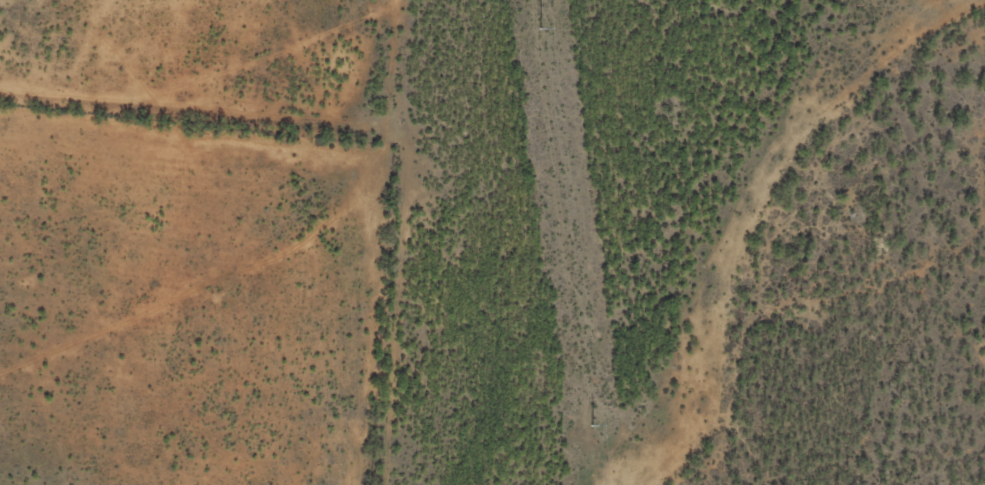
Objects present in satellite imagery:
power tower: (540, 28)
road: (233, 102)
power tower: (593, 425)

